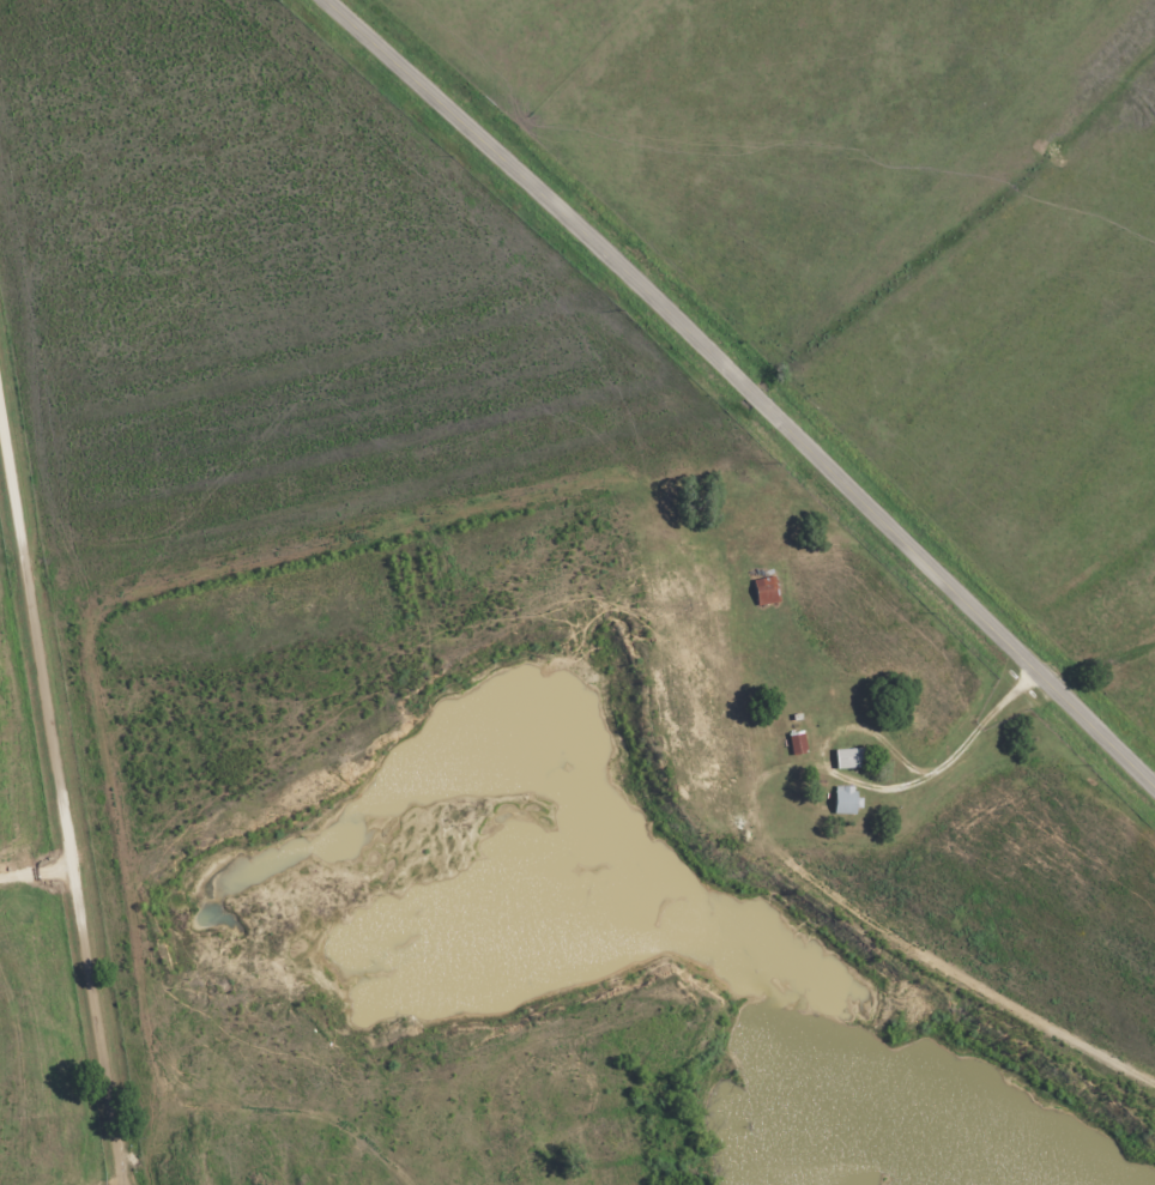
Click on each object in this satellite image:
road: (744, 388)
building: (762, 590)
building: (794, 742)
building: (845, 757)
road: (62, 797)
building: (841, 799)

